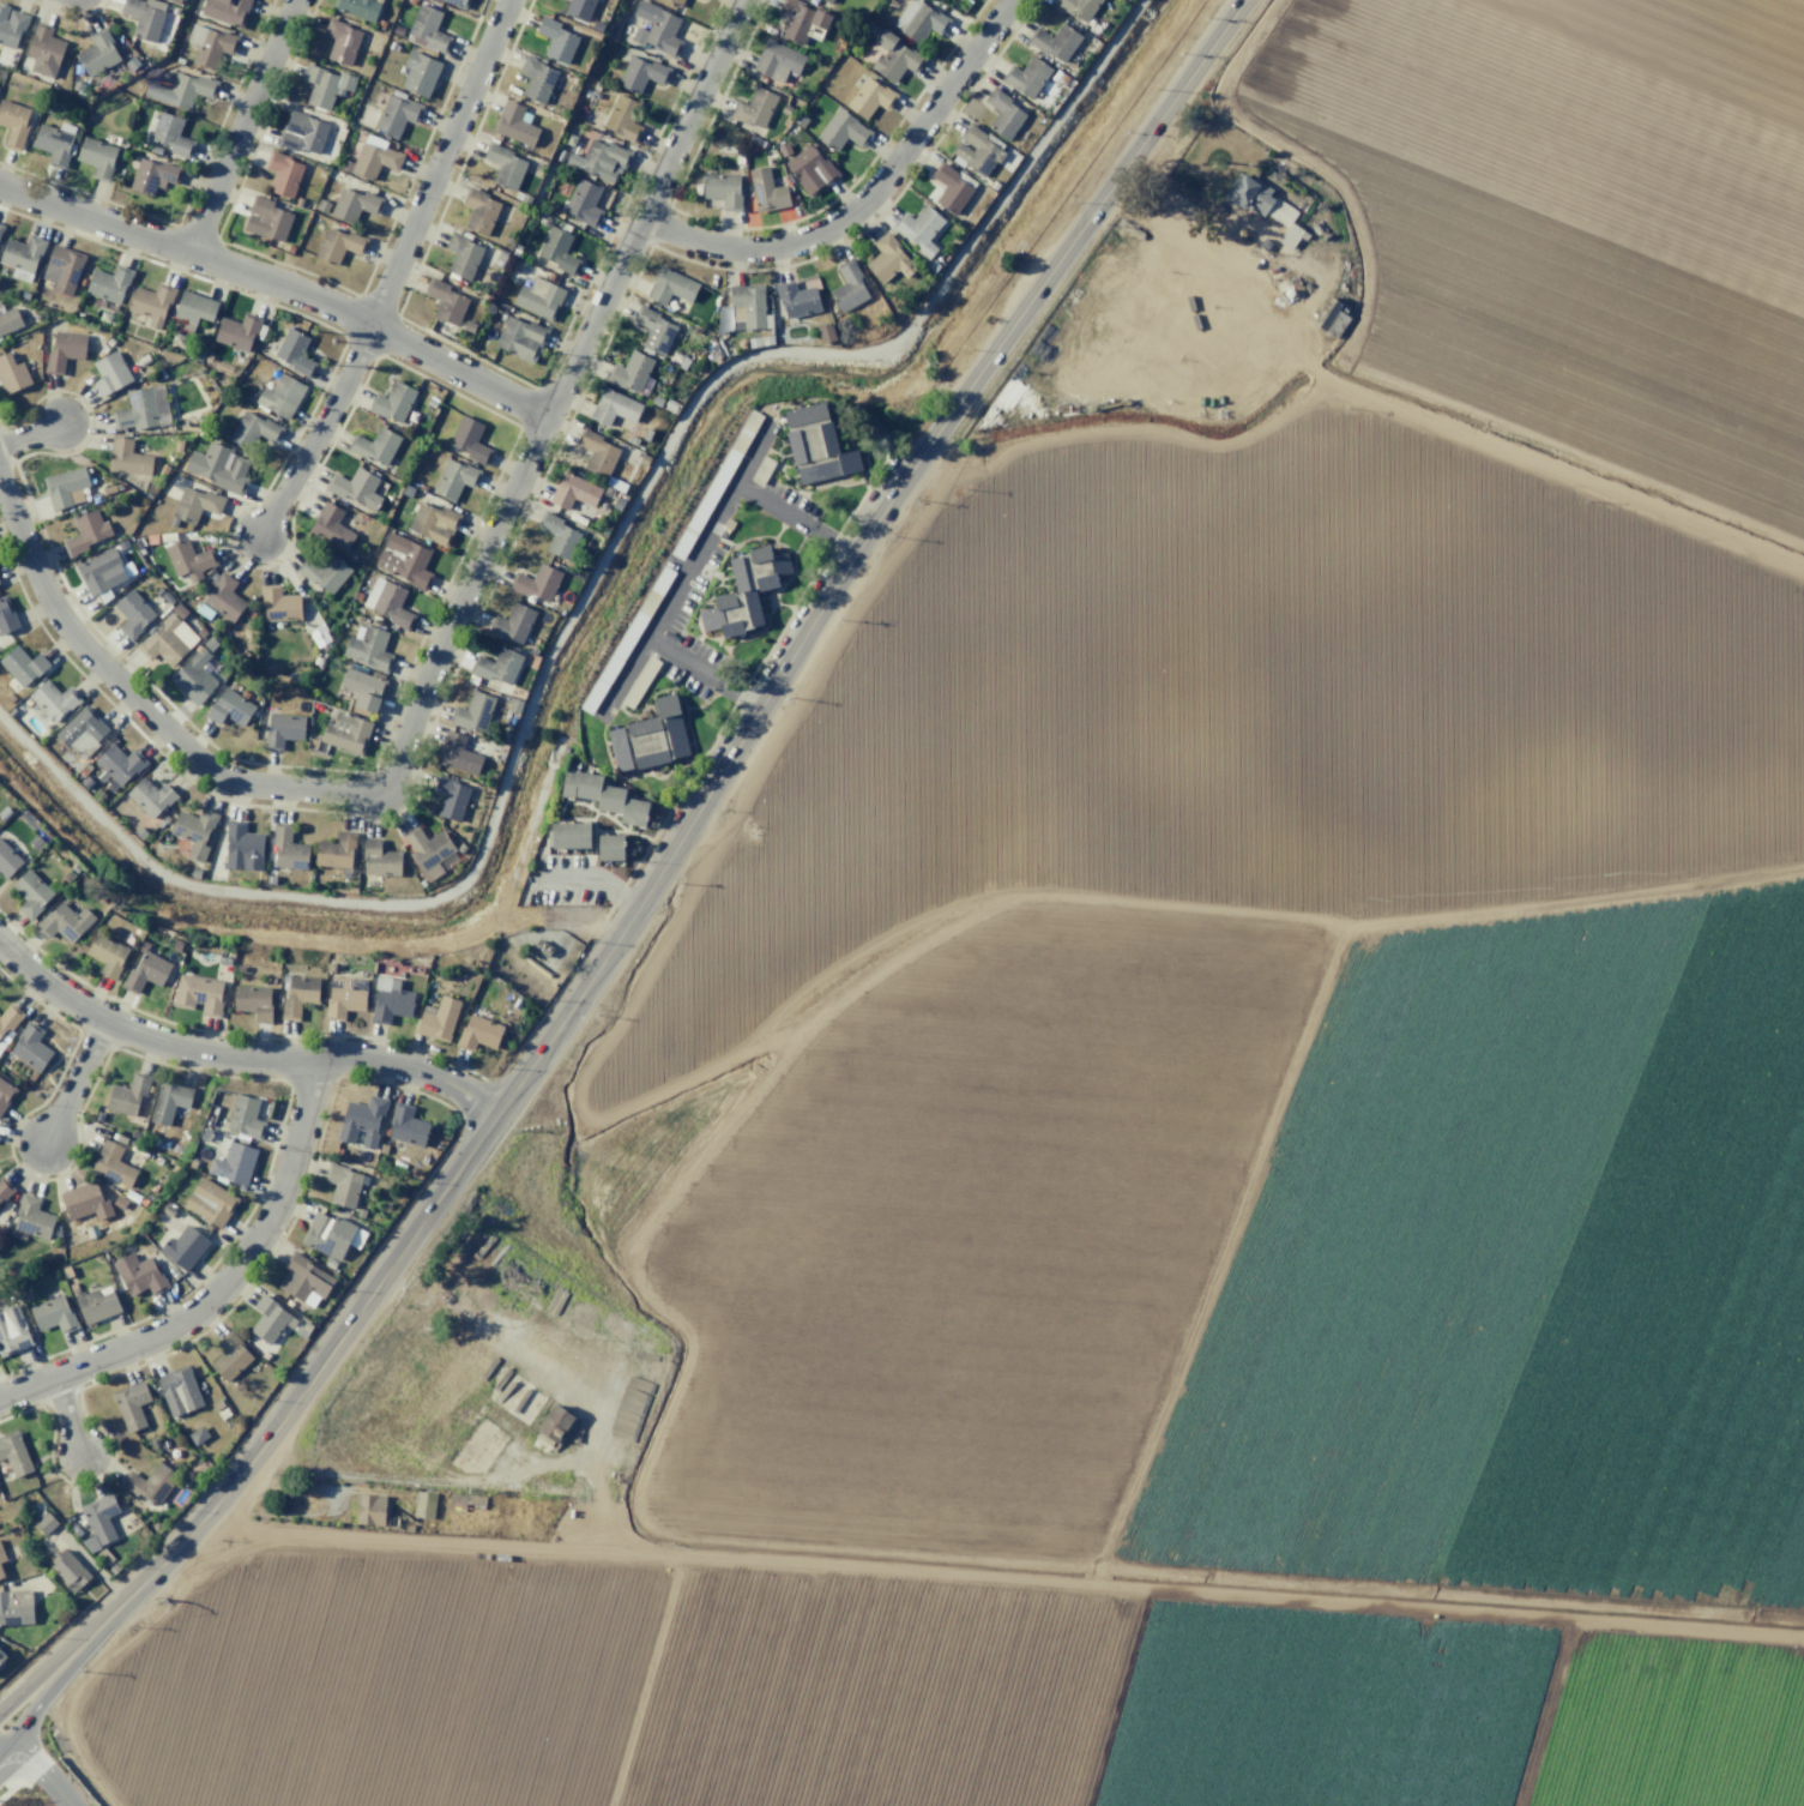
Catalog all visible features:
building: (827, 1)
building: (457, 2)
building: (675, 2)
building: (1078, 7)
building: (358, 8)
building: (579, 8)
building: (225, 11)
building: (145, 17)
building: (801, 20)
building: (919, 20)
building: (11, 26)
building: (428, 28)
building: (657, 30)
building: (340, 40)
building: (556, 41)
building: (1055, 42)
building: (209, 44)
building: (43, 49)
building: (97, 52)
building: (894, 56)
building: (778, 60)
building: (132, 62)
building: (420, 73)
building: (640, 73)
building: (1026, 77)
building: (537, 78)
building: (326, 85)
building: (180, 90)
building: (869, 97)
building: (753, 108)
building: (786, 110)
building: (397, 114)
building: (1003, 114)
building: (622, 118)
building: (800, 120)
building: (13, 124)
building: (514, 125)
road: (242, 126)
building: (843, 131)
building: (301, 133)
building: (170, 134)
building: (53, 144)
building: (783, 149)
building: (155, 150)
building: (976, 151)
building: (97, 157)
building: (374, 158)
building: (601, 159)
road: (439, 162)
building: (505, 165)
building: (812, 170)
building: (282, 173)
building: (152, 176)
building: (951, 188)
building: (723, 189)
building: (766, 191)
road: (865, 198)
building: (525, 199)
building: (1261, 199)
building: (352, 201)
building: (583, 203)
building: (478, 211)
building: (266, 219)
building: (1, 228)
building: (919, 229)
building: (337, 245)
building: (557, 249)
building: (23, 255)
building: (461, 255)
building: (499, 258)
building: (888, 259)
building: (62, 269)
building: (109, 283)
road: (280, 285)
building: (670, 287)
building: (847, 287)
building: (538, 299)
building: (796, 299)
building: (446, 300)
building: (152, 302)
building: (746, 306)
building: (194, 307)
building: (1325, 312)
building: (10, 320)
building: (469, 326)
building: (654, 330)
building: (237, 332)
building: (825, 333)
building: (520, 338)
building: (767, 339)
building: (754, 342)
building: (64, 351)
building: (294, 353)
building: (631, 372)
building: (110, 373)
building: (12, 374)
building: (280, 396)
building: (393, 402)
road: (554, 404)
building: (615, 408)
building: (137, 410)
building: (253, 429)
road: (318, 432)
road: (29, 434)
building: (470, 440)
building: (815, 444)
building: (177, 445)
building: (375, 446)
building: (598, 452)
building: (127, 458)
building: (218, 466)
building: (761, 469)
building: (162, 471)
building: (454, 478)
building: (716, 484)
building: (66, 487)
building: (111, 488)
building: (356, 488)
building: (573, 492)
building: (195, 504)
road: (794, 518)
building: (433, 523)
building: (331, 528)
building: (85, 531)
building: (560, 536)
building: (122, 544)
building: (188, 559)
building: (405, 561)
building: (758, 568)
road: (683, 570)
building: (101, 571)
building: (324, 572)
building: (536, 584)
building: (158, 591)
building: (224, 596)
building: (168, 597)
building: (387, 602)
building: (279, 604)
building: (179, 610)
building: (133, 613)
building: (732, 613)
building: (6, 616)
building: (513, 624)
building: (201, 632)
building: (669, 637)
building: (167, 639)
building: (626, 639)
building: (210, 643)
building: (369, 649)
building: (24, 666)
building: (497, 667)
road: (702, 673)
building: (194, 675)
building: (639, 682)
building: (363, 688)
road: (132, 697)
building: (54, 702)
building: (230, 708)
building: (473, 712)
building: (282, 729)
building: (346, 733)
building: (82, 734)
building: (648, 739)
building: (457, 754)
building: (120, 764)
building: (151, 796)
building: (451, 796)
building: (604, 796)
building: (194, 832)
building: (569, 835)
building: (242, 847)
building: (610, 847)
building: (288, 850)
building: (337, 850)
building: (427, 850)
building: (7, 860)
building: (379, 860)
road: (646, 883)
building: (31, 893)
building: (65, 921)
building: (542, 947)
building: (107, 955)
building: (145, 971)
building: (198, 994)
building: (298, 997)
building: (344, 997)
building: (390, 1000)
building: (253, 1001)
building: (438, 1018)
building: (8, 1021)
building: (478, 1034)
building: (30, 1047)
road: (239, 1056)
crop: (1181, 1071)
road: (74, 1080)
building: (5, 1094)
building: (128, 1094)
building: (169, 1101)
building: (245, 1118)
building: (362, 1120)
building: (406, 1126)
building: (233, 1163)
building: (111, 1164)
building: (343, 1185)
building: (5, 1190)
building: (85, 1202)
building: (119, 1202)
building: (210, 1202)
building: (31, 1217)
building: (331, 1235)
building: (182, 1246)
building: (139, 1274)
building: (302, 1277)
road: (223, 1286)
building: (97, 1305)
building: (55, 1314)
building: (270, 1319)
building: (12, 1331)
building: (230, 1355)
building: (179, 1390)
building: (131, 1404)
road: (66, 1414)
building: (555, 1423)
building: (198, 1434)
building: (14, 1452)
building: (149, 1482)
building: (423, 1505)
building: (369, 1509)
building: (98, 1521)
building: (46, 1523)
building: (1, 1555)
building: (68, 1569)
building: (1, 1572)
building: (16, 1607)
building: (2, 1656)
road: (36, 1766)

